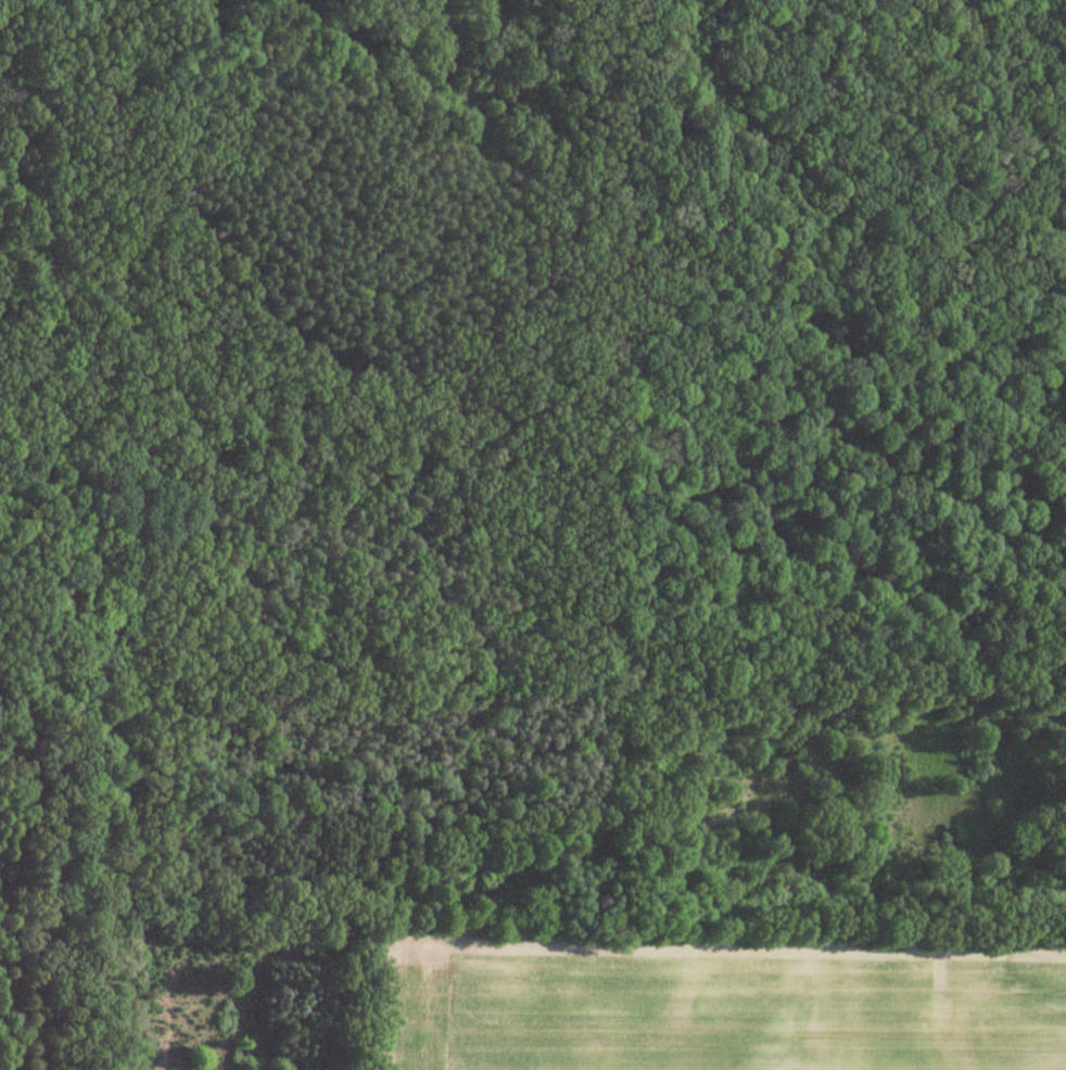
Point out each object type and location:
road: (20, 5)

